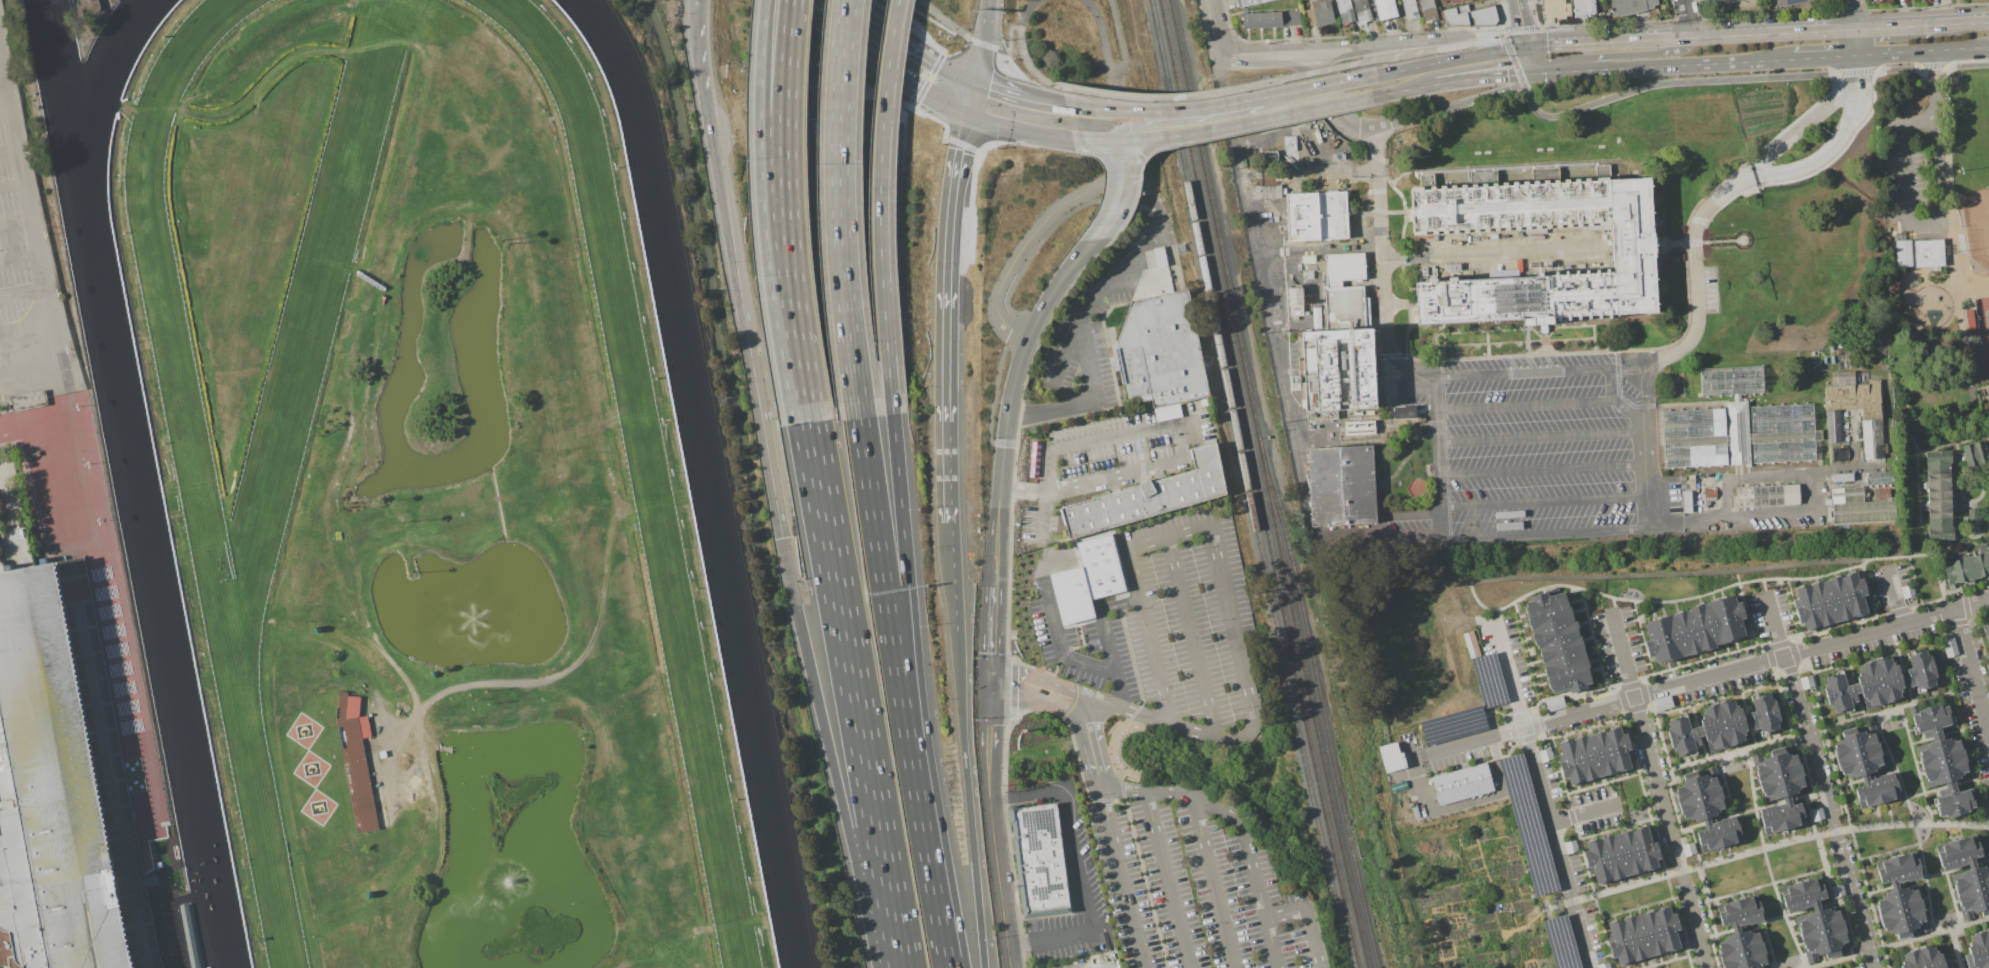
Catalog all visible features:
building: (1444, 0)
building: (1877, 0)
building: (1259, 1)
building: (1459, 1)
building: (1408, 2)
building: (1791, 2)
building: (1245, 3)
building: (1631, 6)
building: (1584, 8)
building: (1385, 9)
road: (916, 10)
building: (1429, 10)
building: (1556, 10)
building: (1361, 11)
building: (1345, 12)
building: (1411, 12)
building: (1320, 13)
road: (1852, 14)
building: (1469, 17)
road: (986, 18)
building: (1291, 18)
road: (1686, 18)
building: (1263, 19)
building: (1276, 19)
building: (1249, 20)
road: (1212, 23)
road: (1522, 23)
road: (1958, 23)
road: (1891, 28)
road: (891, 32)
road: (1498, 34)
road: (1771, 34)
road: (1119, 39)
road: (1648, 39)
road: (977, 41)
road: (1104, 41)
road: (848, 43)
road: (1388, 43)
road: (1855, 43)
road: (1568, 44)
road: (1025, 45)
traffic signals: (1528, 47)
road: (1437, 48)
road: (1518, 48)
road: (1922, 51)
road: (1265, 55)
road: (1626, 55)
road: (761, 57)
road: (1531, 58)
road: (1825, 58)
road: (977, 59)
road: (1442, 61)
road: (1732, 64)
road: (1857, 64)
road: (1962, 67)
road: (1614, 68)
road: (1546, 69)
road: (1526, 70)
traffic signals: (1534, 70)
road: (1475, 74)
road: (953, 75)
building: (1955, 80)
road: (3, 81)
road: (1690, 82)
traffic signals: (972, 83)
road: (1318, 86)
road: (1937, 86)
road: (1407, 89)
road: (1213, 93)
road: (894, 96)
road: (1017, 98)
road: (968, 99)
road: (934, 102)
road: (783, 103)
road: (1457, 103)
road: (1216, 106)
road: (1334, 106)
road: (1118, 111)
road: (6, 114)
traffic signals: (964, 115)
road: (1143, 120)
road: (1252, 121)
road: (1122, 126)
road: (1806, 126)
road: (1016, 129)
building: (1317, 134)
road: (1097, 138)
building: (1290, 144)
road: (9, 150)
road: (1832, 150)
road: (786, 151)
road: (1376, 151)
park: (1972, 155)
building: (1269, 157)
road: (1124, 162)
road: (23, 169)
road: (814, 172)
parking lot: (1926, 173)
building: (1282, 177)
road: (13, 186)
road: (952, 186)
railway: (1207, 191)
building: (1268, 191)
road: (879, 206)
road: (838, 209)
road: (766, 210)
road: (1111, 214)
building: (1317, 216)
road: (16, 219)
road: (1153, 219)
road: (1911, 223)
building: (1358, 226)
park: (1978, 226)
parking lot: (14, 230)
building: (1276, 230)
park: (1939, 235)
road: (1029, 237)
building: (1929, 252)
building: (1634, 253)
building: (1903, 253)
road: (1483, 254)
road: (20, 256)
building: (1159, 256)
building: (1273, 262)
building: (1471, 265)
building: (1455, 267)
road: (734, 268)
road: (1955, 272)
road: (1055, 284)
building: (1314, 288)
road: (1382, 290)
road: (23, 291)
building: (1344, 291)
road: (1697, 292)
road: (1097, 297)
building: (1296, 301)
building: (1313, 315)
building: (1970, 320)
road: (1960, 325)
park: (1983, 328)
road: (48, 332)
building: (1162, 354)
road: (797, 362)
building: (1337, 374)
road: (1522, 374)
road: (1608, 385)
road: (1010, 388)
road: (944, 390)
building: (29, 400)
road: (1085, 401)
track: (204, 405)
building: (9, 406)
road: (1524, 406)
road: (1626, 410)
building: (1405, 412)
building: (1422, 418)
building: (1738, 426)
building: (1872, 426)
building: (1359, 428)
road: (1541, 436)
road: (1176, 443)
road: (1076, 444)
road: (1645, 448)
parking lot: (1535, 450)
building: (1840, 453)
building: (34, 454)
building: (1975, 454)
building: (1035, 460)
road: (1440, 460)
building: (1939, 461)
road: (1543, 468)
track: (674, 471)
road: (1000, 471)
building: (1843, 477)
building: (1880, 478)
road: (1090, 484)
railway: (1246, 484)
railway: (1256, 484)
building: (1941, 484)
building: (1342, 486)
building: (1711, 494)
building: (1882, 494)
building: (1776, 495)
building: (1149, 497)
road: (1544, 501)
building: (1686, 504)
building: (1942, 506)
building: (1859, 507)
road: (1808, 512)
building: (1973, 520)
building: (1353, 529)
road: (1383, 529)
building: (1941, 529)
road: (1175, 535)
road: (1546, 535)
road: (996, 542)
building: (38, 545)
building: (1980, 561)
building: (1959, 569)
road: (951, 575)
building: (1087, 579)
road: (1941, 583)
road: (1765, 587)
road: (1917, 587)
road: (1722, 589)
building: (1908, 591)
building: (1857, 594)
road: (1897, 597)
road: (1871, 598)
building: (1840, 599)
building: (1824, 602)
road: (1614, 604)
building: (1806, 607)
building: (1548, 610)
building: (1163, 614)
fountain: (473, 616)
road: (1499, 616)
building: (1728, 621)
parking lot: (1164, 622)
road: (1775, 626)
building: (317, 629)
building: (1695, 630)
building: (1986, 633)
road: (991, 635)
road: (1104, 637)
road: (1193, 640)
building: (1664, 640)
building: (1558, 642)
building: (1475, 644)
road: (1060, 645)
building: (1469, 645)
building: (1950, 648)
building: (1988, 648)
road: (912, 651)
road: (1067, 652)
road: (893, 654)
road: (1130, 654)
road: (1624, 654)
building: (1218, 657)
building: (1988, 658)
road: (1756, 663)
road: (1973, 666)
building: (1920, 672)
road: (1511, 674)
building: (1568, 674)
railway: (1304, 676)
building: (1891, 679)
building: (1807, 682)
road: (1019, 684)
traffic signals: (989, 685)
building: (1871, 685)
building: (1841, 693)
road: (855, 695)
road: (1064, 696)
railway: (1320, 702)
building: (1663, 703)
building: (1555, 704)
road: (1122, 707)
building: (406, 709)
road: (1134, 712)
building: (1763, 714)
road: (988, 718)
building: (1931, 720)
building: (1734, 723)
building: (1714, 728)
building: (1684, 736)
road: (1213, 740)
road: (1472, 741)
building: (1856, 742)
road: (1090, 745)
road: (1112, 746)
building: (1620, 749)
building: (1940, 752)
road: (828, 753)
building: (1602, 753)
building: (1546, 755)
building: (1392, 758)
building: (1586, 758)
building: (356, 761)
building: (1570, 763)
building: (1862, 763)
building: (1775, 764)
building: (1945, 772)
building: (1463, 784)
road: (1121, 785)
building: (1781, 786)
building: (64, 787)
building: (1696, 787)
building: (1877, 790)
road: (1123, 794)
road: (1179, 795)
road: (967, 798)
road: (1108, 800)
building: (1954, 801)
road: (1119, 803)
road: (1464, 803)
building: (1702, 807)
road: (1830, 812)
road: (1585, 813)
building: (1817, 815)
building: (1782, 817)
road: (1671, 832)
building: (1720, 834)
road: (1559, 847)
building: (1570, 847)
road: (1768, 847)
building: (1647, 848)
building: (1689, 849)
building: (1630, 853)
building: (1959, 853)
building: (1614, 857)
road: (996, 859)
building: (1039, 860)
building: (1597, 862)
road: (1076, 865)
building: (1899, 869)
road: (1124, 879)
road: (1168, 880)
building: (1970, 880)
fountain: (505, 881)
road: (1145, 883)
road: (1214, 883)
parking lot: (1197, 891)
building: (1838, 891)
building: (370, 894)
building: (1803, 895)
road: (1261, 899)
building: (1900, 900)
building: (1974, 903)
building: (1741, 912)
road: (1307, 917)
building: (1819, 921)
building: (1906, 922)
road: (943, 928)
building: (1669, 929)
building: (1524, 931)
building: (1652, 933)
building: (1987, 934)
building: (192, 936)
building: (1637, 938)
building: (1620, 943)
building: (1741, 943)
building: (1825, 943)
building: (1092, 948)
building: (1978, 951)
building: (1933, 958)
building: (1911, 959)
building: (1747, 960)
road: (1077, 964)
building: (1604, 965)

